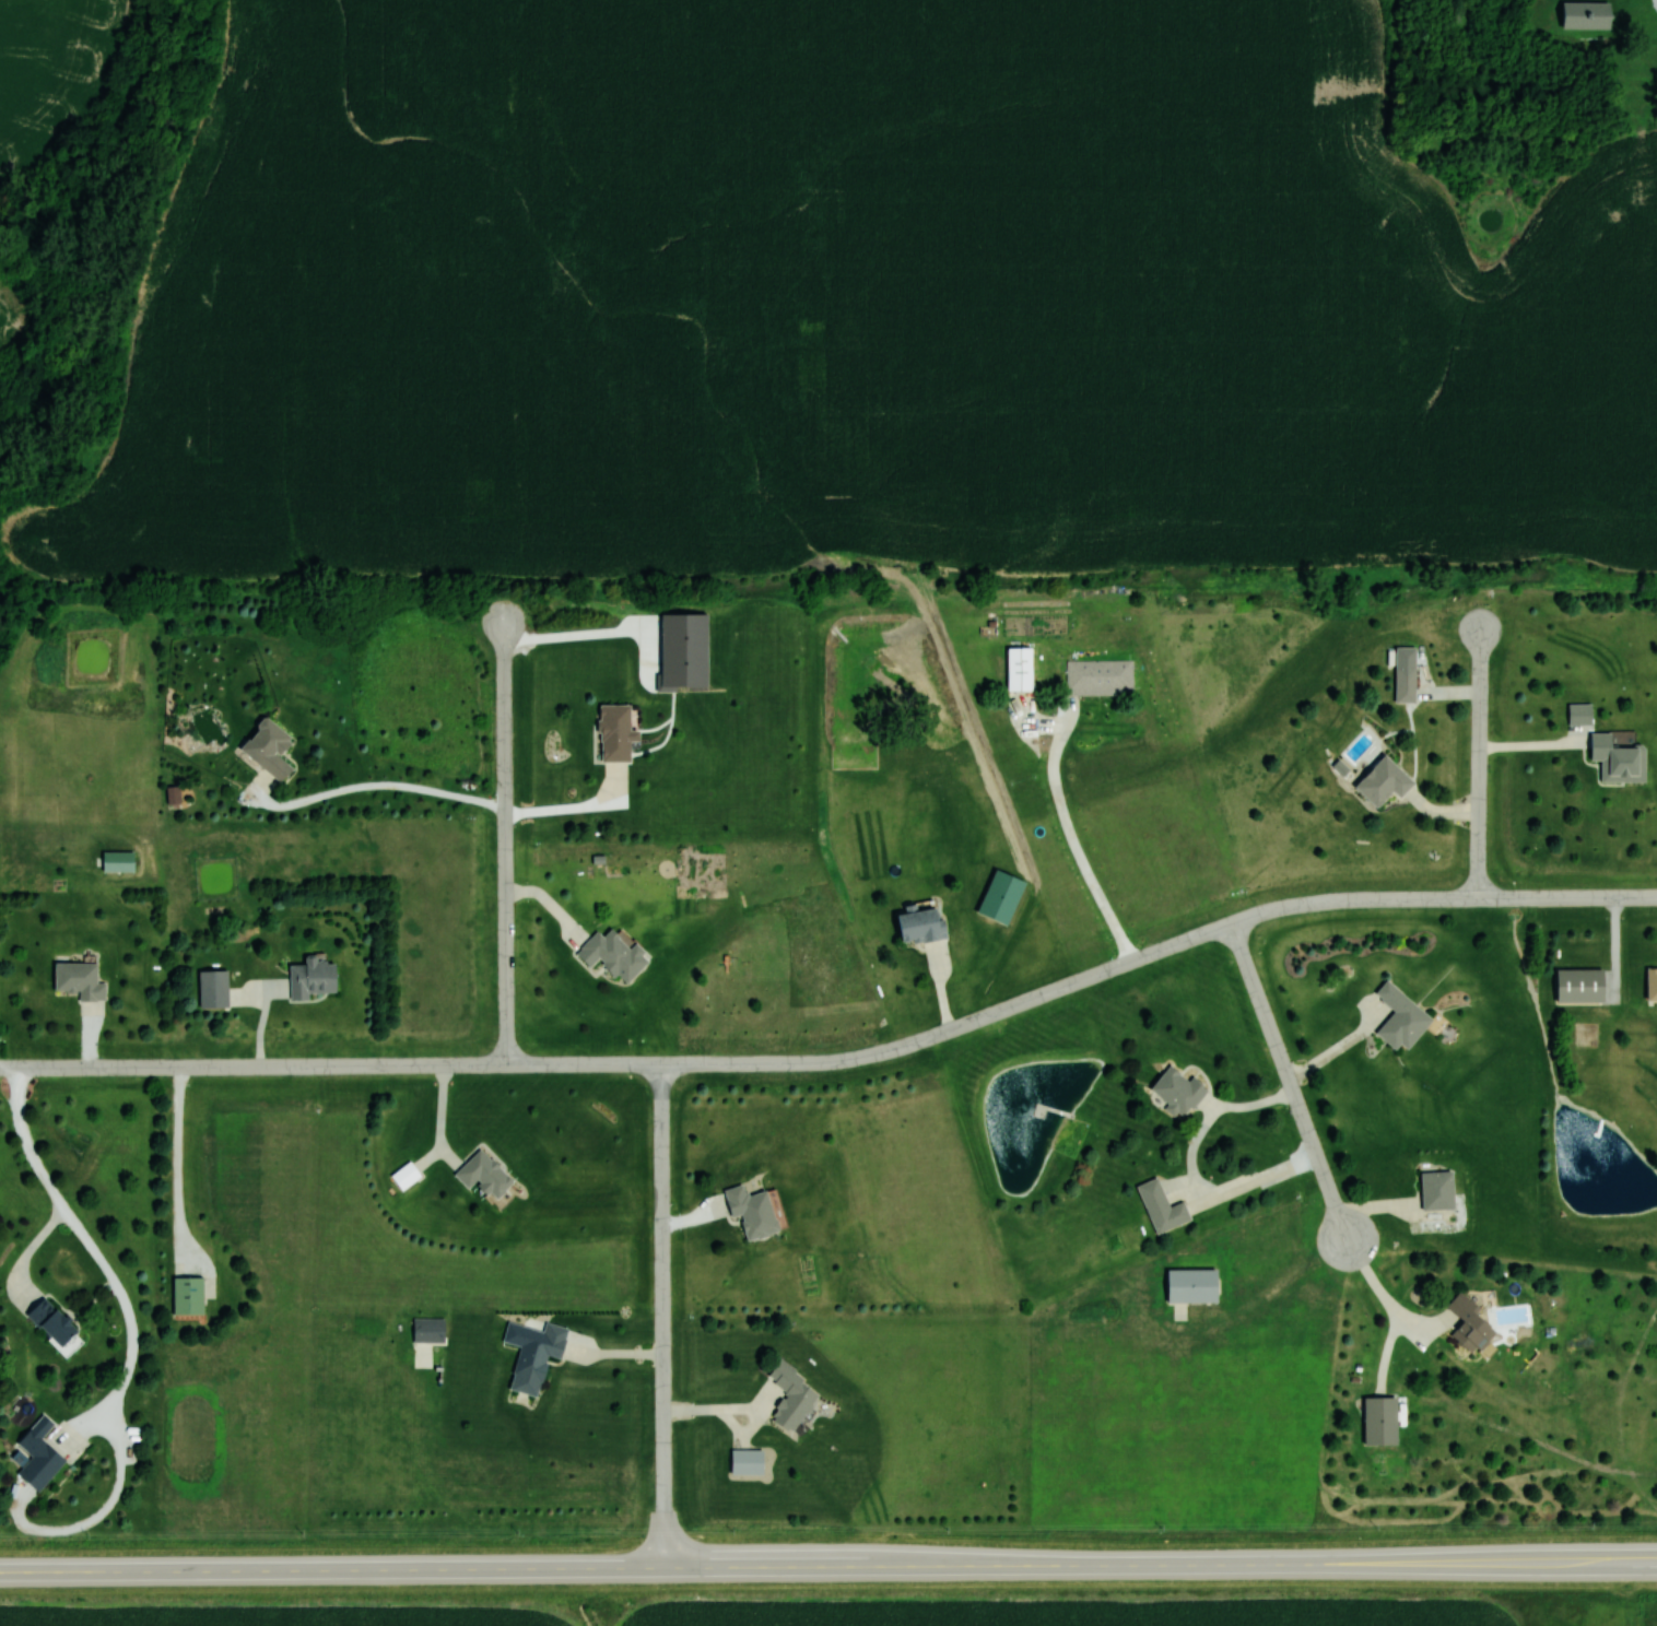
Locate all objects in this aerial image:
building: (1584, 14)
building: (1018, 669)
building: (1100, 675)
building: (1403, 683)
building: (1578, 714)
building: (613, 733)
building: (267, 747)
building: (1617, 758)
road: (1479, 764)
building: (1382, 781)
road: (378, 786)
road: (506, 841)
building: (116, 861)
building: (1000, 898)
building: (917, 926)
building: (612, 954)
building: (310, 978)
building: (78, 980)
building: (1650, 983)
building: (1578, 986)
building: (211, 989)
building: (1399, 1017)
road: (842, 1059)
road: (1290, 1083)
building: (1176, 1091)
road: (178, 1156)
building: (481, 1175)
building: (1435, 1191)
building: (1161, 1207)
building: (750, 1211)
road: (32, 1251)
road: (96, 1252)
building: (1189, 1286)
building: (186, 1297)
road: (1386, 1297)
road: (663, 1316)
building: (48, 1323)
building: (1467, 1324)
building: (426, 1330)
building: (534, 1356)
building: (790, 1395)
road: (741, 1410)
building: (1378, 1422)
building: (37, 1454)
building: (744, 1462)
road: (827, 1567)

